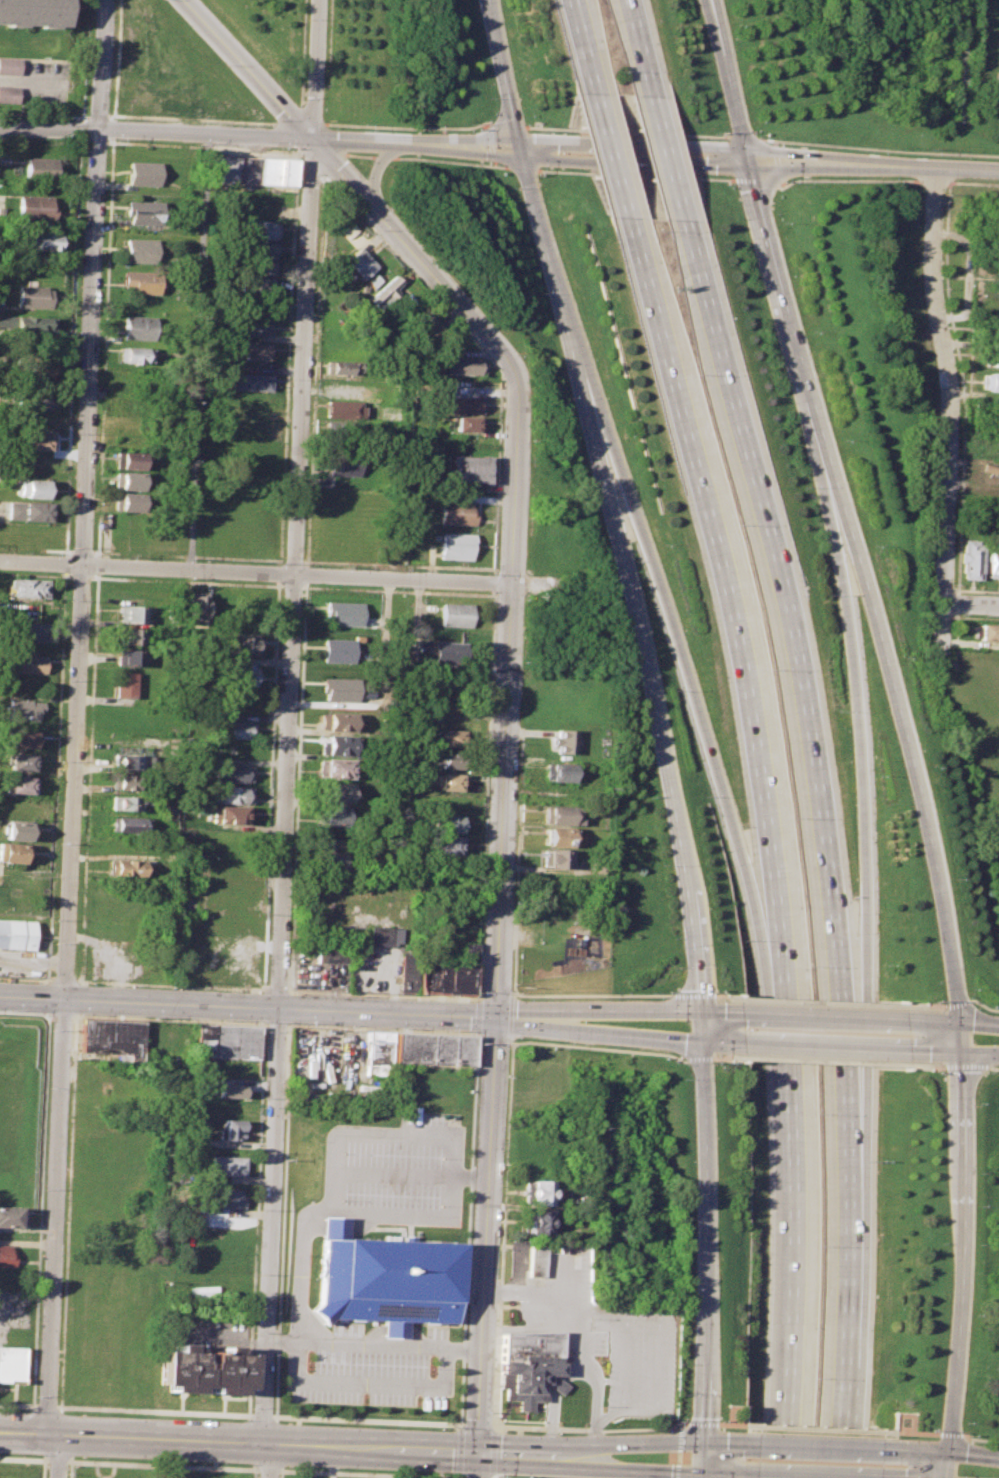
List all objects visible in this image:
building: (30, 12)
road: (589, 46)
road: (645, 47)
road: (299, 52)
road: (84, 60)
road: (101, 64)
street lamp: (223, 64)
building: (9, 65)
park: (280, 65)
street lamp: (89, 66)
road: (312, 70)
park: (872, 75)
parking lot: (32, 81)
building: (8, 94)
street lamp: (302, 98)
road: (285, 113)
road: (43, 114)
road: (97, 116)
road: (190, 118)
street lamp: (272, 119)
road: (297, 123)
road: (406, 125)
road: (512, 126)
road: (82, 128)
road: (635, 130)
road: (759, 136)
street lamp: (63, 139)
street lamp: (114, 139)
street lamp: (196, 144)
road: (496, 145)
road: (499, 145)
traffic signals: (527, 146)
road: (890, 148)
road: (340, 152)
road: (618, 154)
road: (672, 155)
road: (381, 156)
road: (452, 159)
traffic signals: (756, 159)
road: (785, 159)
road: (529, 167)
building: (41, 168)
building: (251, 169)
road: (373, 171)
building: (142, 173)
road: (645, 173)
street lamp: (326, 177)
road: (853, 179)
street lamp: (298, 180)
road: (765, 180)
road: (935, 180)
road: (352, 186)
building: (33, 207)
building: (143, 211)
building: (344, 228)
building: (261, 229)
street lamp: (371, 230)
building: (45, 241)
building: (259, 249)
building: (139, 250)
building: (357, 263)
building: (257, 267)
road: (966, 274)
building: (141, 280)
building: (371, 280)
building: (257, 286)
building: (384, 291)
building: (31, 296)
building: (252, 324)
building: (33, 325)
building: (139, 327)
building: (994, 333)
road: (73, 346)
street lamp: (480, 347)
building: (255, 350)
road: (196, 352)
building: (136, 354)
building: (992, 357)
building: (40, 364)
building: (464, 364)
building: (342, 367)
building: (251, 381)
road: (960, 381)
building: (992, 381)
road: (947, 384)
building: (37, 397)
building: (463, 404)
building: (344, 408)
building: (249, 414)
building: (466, 422)
building: (343, 432)
street lamp: (531, 438)
building: (37, 439)
building: (128, 459)
building: (344, 464)
building: (466, 468)
building: (128, 480)
building: (34, 488)
building: (127, 501)
road: (611, 503)
building: (27, 511)
building: (457, 512)
street lamp: (529, 515)
building: (456, 546)
building: (971, 559)
road: (65, 563)
building: (993, 564)
road: (284, 574)
road: (292, 585)
building: (28, 586)
road: (304, 586)
road: (399, 590)
street lamp: (524, 598)
road: (970, 604)
building: (196, 605)
building: (343, 613)
building: (131, 614)
building: (456, 615)
road: (941, 629)
building: (988, 630)
building: (26, 631)
building: (129, 635)
building: (242, 644)
building: (338, 649)
building: (449, 653)
building: (128, 657)
building: (22, 660)
street lamp: (522, 661)
building: (238, 673)
building: (123, 684)
road: (92, 685)
building: (340, 688)
building: (236, 696)
building: (22, 709)
road: (898, 717)
building: (337, 721)
building: (234, 729)
road: (704, 729)
building: (451, 737)
building: (20, 738)
building: (564, 740)
street lamp: (518, 743)
building: (338, 745)
building: (453, 759)
building: (18, 761)
building: (131, 761)
building: (335, 768)
building: (557, 771)
building: (234, 773)
road: (56, 776)
road: (72, 780)
building: (130, 782)
building: (451, 782)
road: (859, 782)
building: (17, 784)
building: (335, 791)
building: (233, 794)
building: (128, 803)
road: (284, 810)
building: (560, 814)
building: (231, 815)
building: (335, 815)
street lamp: (516, 818)
building: (449, 823)
building: (129, 824)
building: (15, 830)
building: (556, 835)
road: (773, 840)
road: (825, 840)
building: (447, 846)
building: (11, 852)
road: (516, 857)
building: (554, 857)
building: (335, 860)
building: (128, 868)
street lamp: (513, 902)
building: (249, 905)
road: (498, 927)
building: (16, 933)
building: (382, 934)
street lamp: (55, 942)
building: (247, 950)
building: (328, 951)
street lamp: (269, 957)
street lamp: (887, 964)
building: (406, 972)
building: (449, 974)
road: (26, 978)
road: (64, 980)
street lamp: (510, 983)
road: (171, 984)
street lamp: (967, 987)
road: (277, 989)
street lamp: (648, 991)
road: (384, 994)
road: (588, 994)
road: (688, 994)
road: (48, 996)
road: (723, 996)
road: (818, 1000)
street lamp: (928, 1000)
road: (952, 1003)
road: (920, 1005)
road: (980, 1005)
road: (247, 1006)
road: (596, 1008)
street lamp: (13, 1010)
traffic signals: (700, 1011)
road: (25, 1012)
road: (48, 1012)
road: (723, 1012)
road: (61, 1013)
street lamp: (79, 1013)
road: (475, 1013)
road: (509, 1015)
road: (826, 1015)
street lamp: (153, 1017)
road: (928, 1017)
traffic signals: (495, 1018)
traffic signals: (951, 1018)
road: (169, 1019)
street lamp: (222, 1020)
road: (975, 1020)
road: (278, 1023)
street lamp: (307, 1023)
street lamp: (396, 1027)
road: (383, 1028)
street lamp: (51, 1029)
street lamp: (446, 1029)
street lamp: (266, 1030)
road: (474, 1031)
road: (493, 1034)
road: (597, 1034)
building: (112, 1035)
road: (509, 1040)
building: (236, 1041)
building: (204, 1043)
traffic signals: (700, 1045)
road: (719, 1045)
street lamp: (561, 1046)
building: (412, 1047)
road: (820, 1047)
building: (440, 1048)
building: (461, 1049)
road: (927, 1051)
building: (379, 1052)
road: (975, 1052)
traffic signals: (952, 1053)
road: (723, 1056)
road: (695, 1057)
street lamp: (725, 1060)
road: (820, 1060)
road: (920, 1064)
road: (962, 1065)
road: (991, 1067)
street lamp: (998, 1071)
street lamp: (681, 1077)
building: (232, 1091)
street lamp: (975, 1102)
building: (230, 1129)
road: (391, 1135)
road: (505, 1145)
building: (108, 1155)
building: (226, 1165)
parking lot: (393, 1171)
road: (468, 1175)
street lamp: (684, 1182)
building: (535, 1191)
building: (225, 1197)
street lamp: (978, 1205)
road: (40, 1209)
road: (333, 1209)
road: (68, 1211)
building: (98, 1211)
building: (8, 1216)
road: (256, 1219)
road: (282, 1219)
building: (535, 1221)
road: (468, 1228)
building: (100, 1232)
road: (705, 1244)
building: (6, 1255)
building: (535, 1258)
road: (300, 1264)
building: (383, 1278)
road: (564, 1278)
street lamp: (685, 1288)
road: (561, 1298)
street lamp: (976, 1315)
parking lot: (598, 1327)
road: (282, 1341)
road: (463, 1347)
road: (656, 1352)
road: (622, 1360)
building: (11, 1364)
building: (528, 1366)
parking lot: (372, 1367)
building: (204, 1369)
road: (442, 1383)
street lamp: (682, 1393)
road: (594, 1395)
road: (17, 1405)
road: (46, 1406)
road: (737, 1407)
street lamp: (18, 1409)
road: (154, 1410)
street lamp: (493, 1411)
street lamp: (106, 1413)
road: (904, 1414)
road: (262, 1415)
road: (249, 1417)
street lamp: (227, 1418)
road: (367, 1419)
road: (550, 1421)
street lamp: (671, 1421)
street lamp: (321, 1422)
road: (702, 1422)
street lamp: (966, 1422)
road: (731, 1423)
road: (462, 1426)
street lamp: (454, 1427)
road: (820, 1427)
road: (589, 1428)
street lamp: (754, 1429)
street lamp: (504, 1430)
road: (916, 1431)
street lamp: (526, 1432)
road: (949, 1433)
street lamp: (888, 1434)
road: (979, 1438)
road: (251, 1441)
road: (664, 1441)
traffic signals: (701, 1441)
road: (294, 1444)
road: (819, 1445)
traffic signals: (945, 1452)
road: (946, 1452)
street lamp: (19, 1453)
road: (59, 1455)
road: (24, 1458)
street lamp: (106, 1458)
road: (58, 1460)
street lamp: (224, 1463)
road: (163, 1464)
road: (943, 1465)
street lamp: (318, 1466)
road: (45, 1469)
road: (71, 1469)
road: (269, 1469)
road: (255, 1471)
street lamp: (435, 1471)
road: (664, 1471)
road: (370, 1472)
street lamp: (68, 1473)
road: (281, 1473)
traffic signals: (700, 1473)
street lamp: (499, 1476)
road: (785, 1476)

